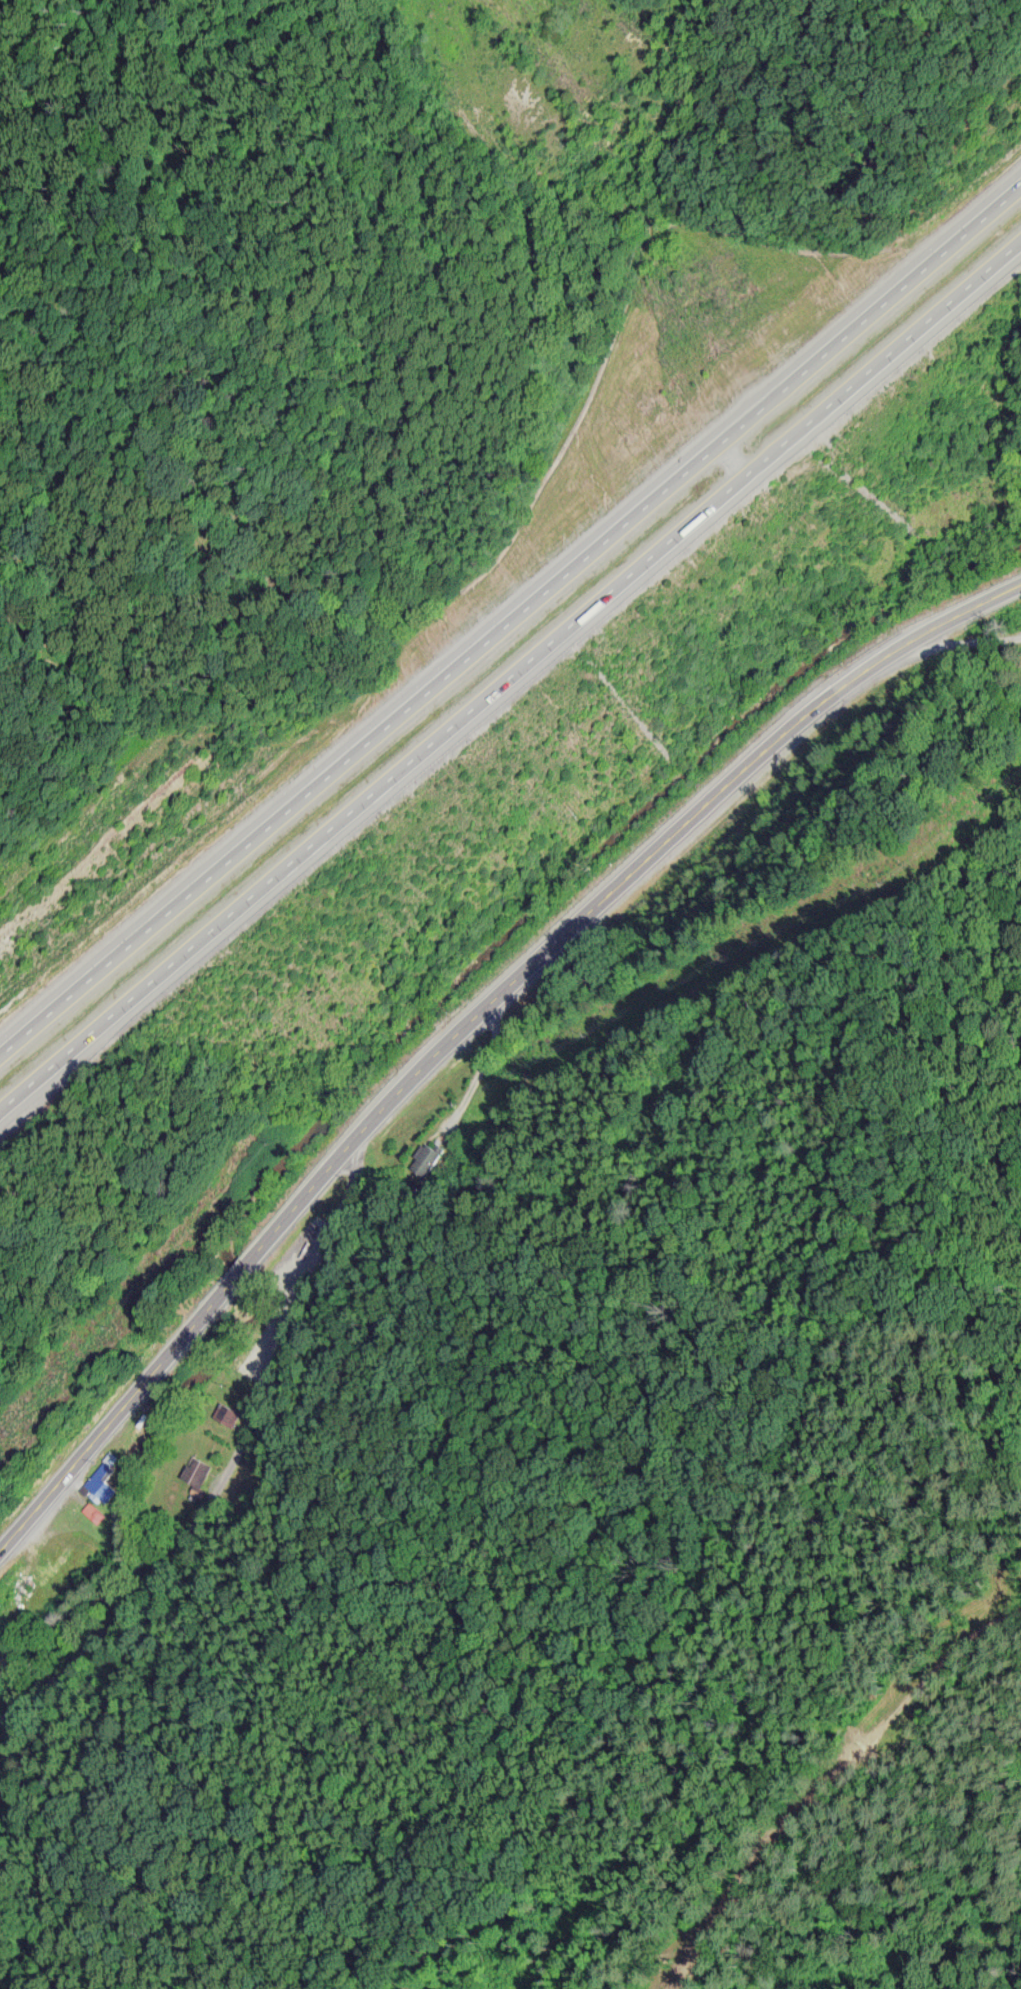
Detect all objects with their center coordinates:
road: (510, 617)
road: (975, 634)
road: (510, 675)
road: (471, 1019)
building: (231, 1412)
building: (199, 1468)
building: (104, 1477)
road: (215, 1497)
building: (95, 1510)
building: (9, 1573)
building: (1, 1663)
building: (0, 1669)
road: (836, 1788)

